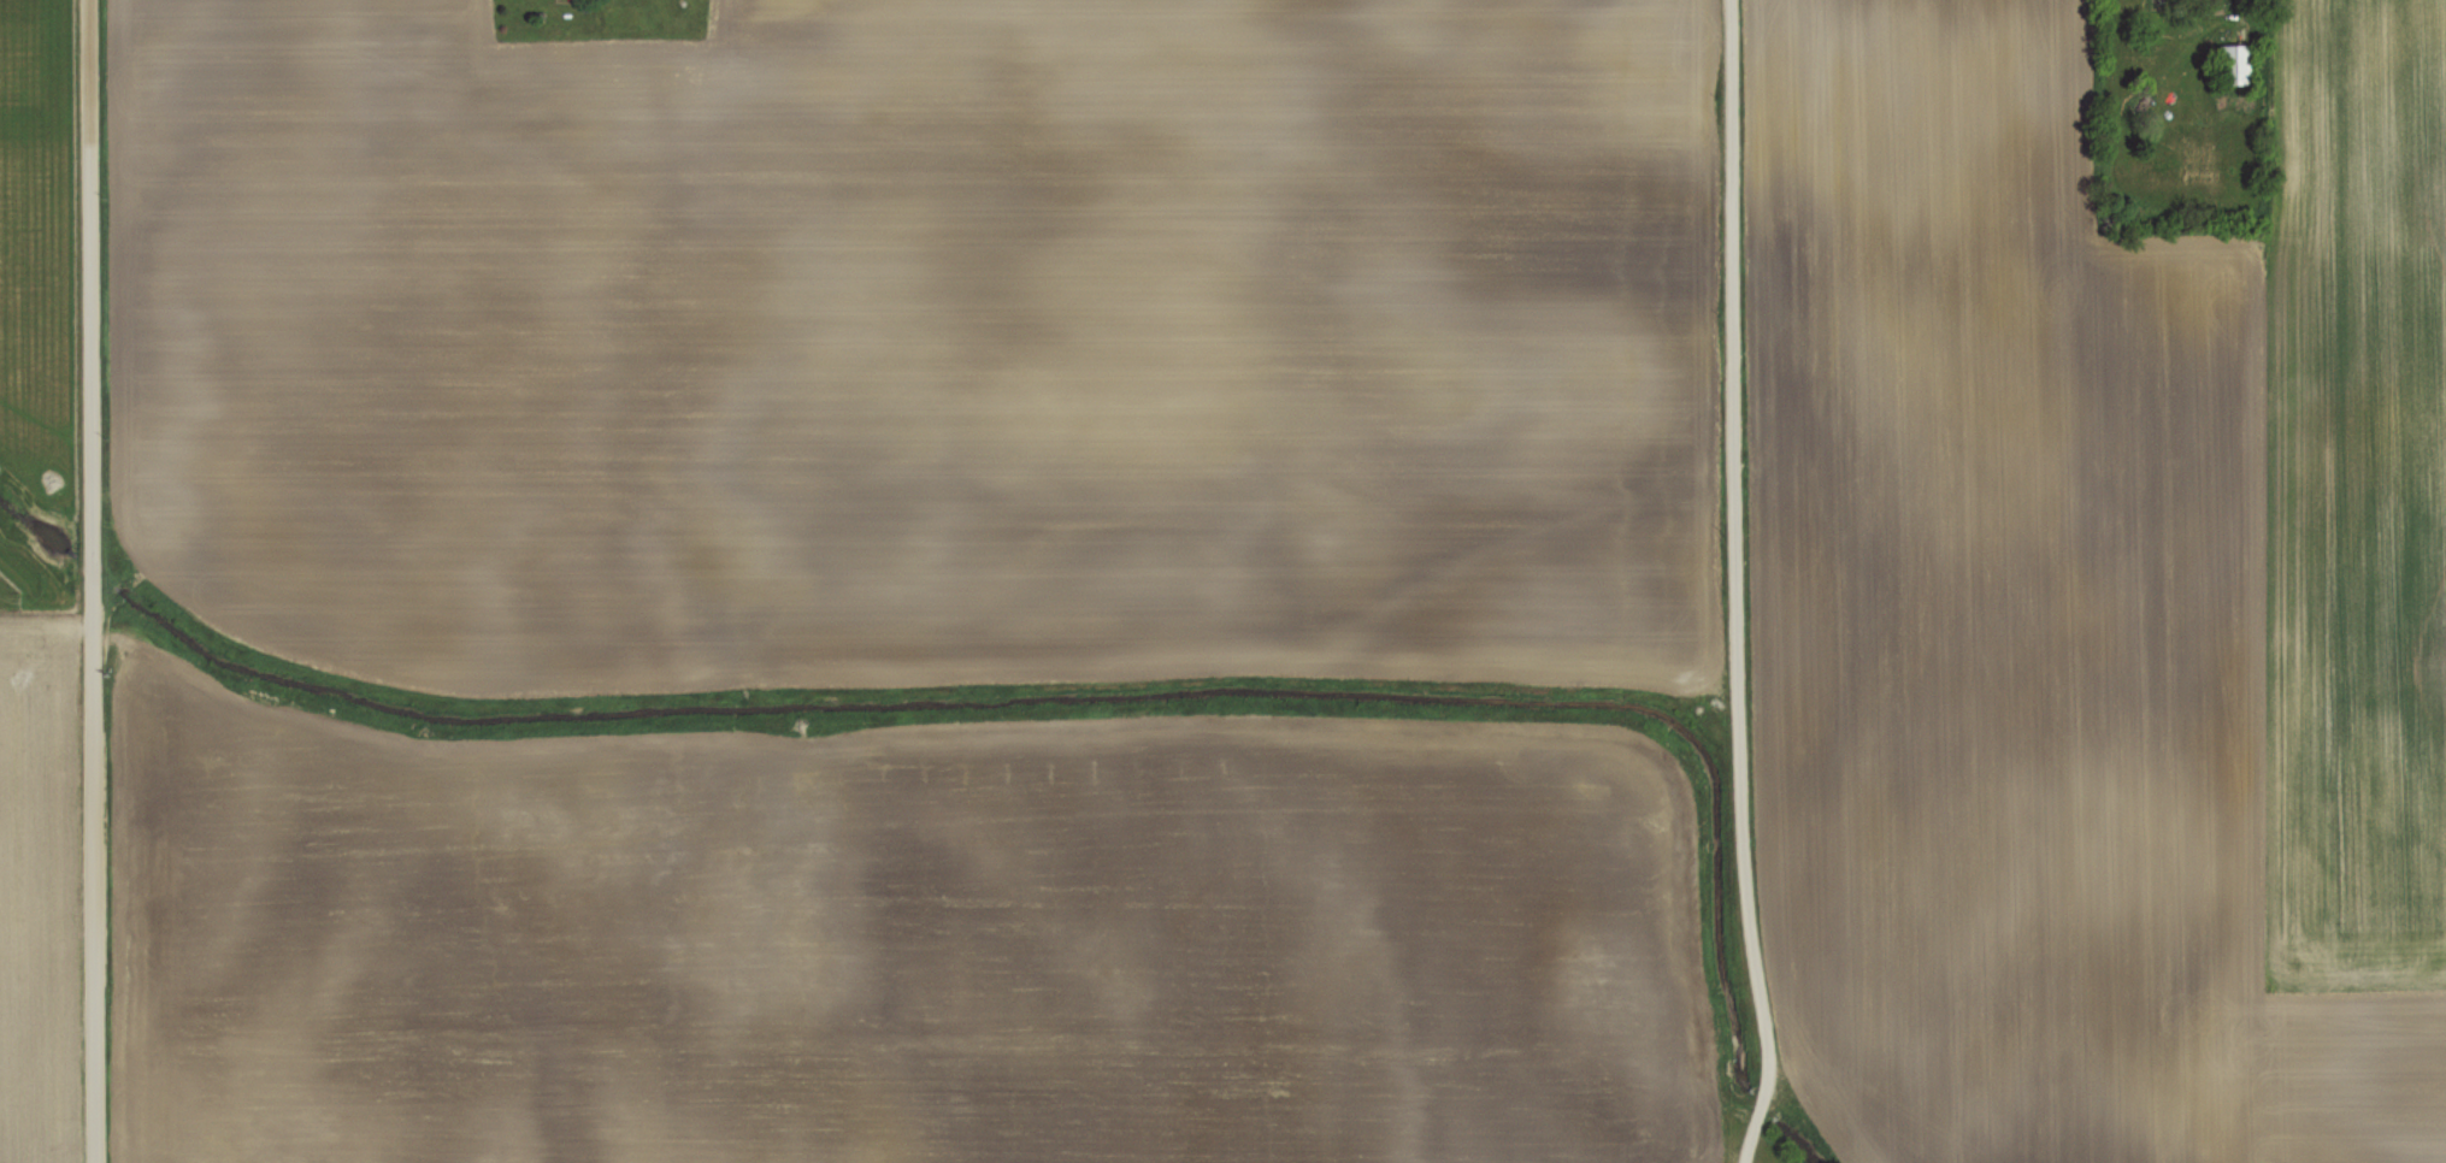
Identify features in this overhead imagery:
building: (2238, 63)
road: (86, 580)
road: (1734, 584)

